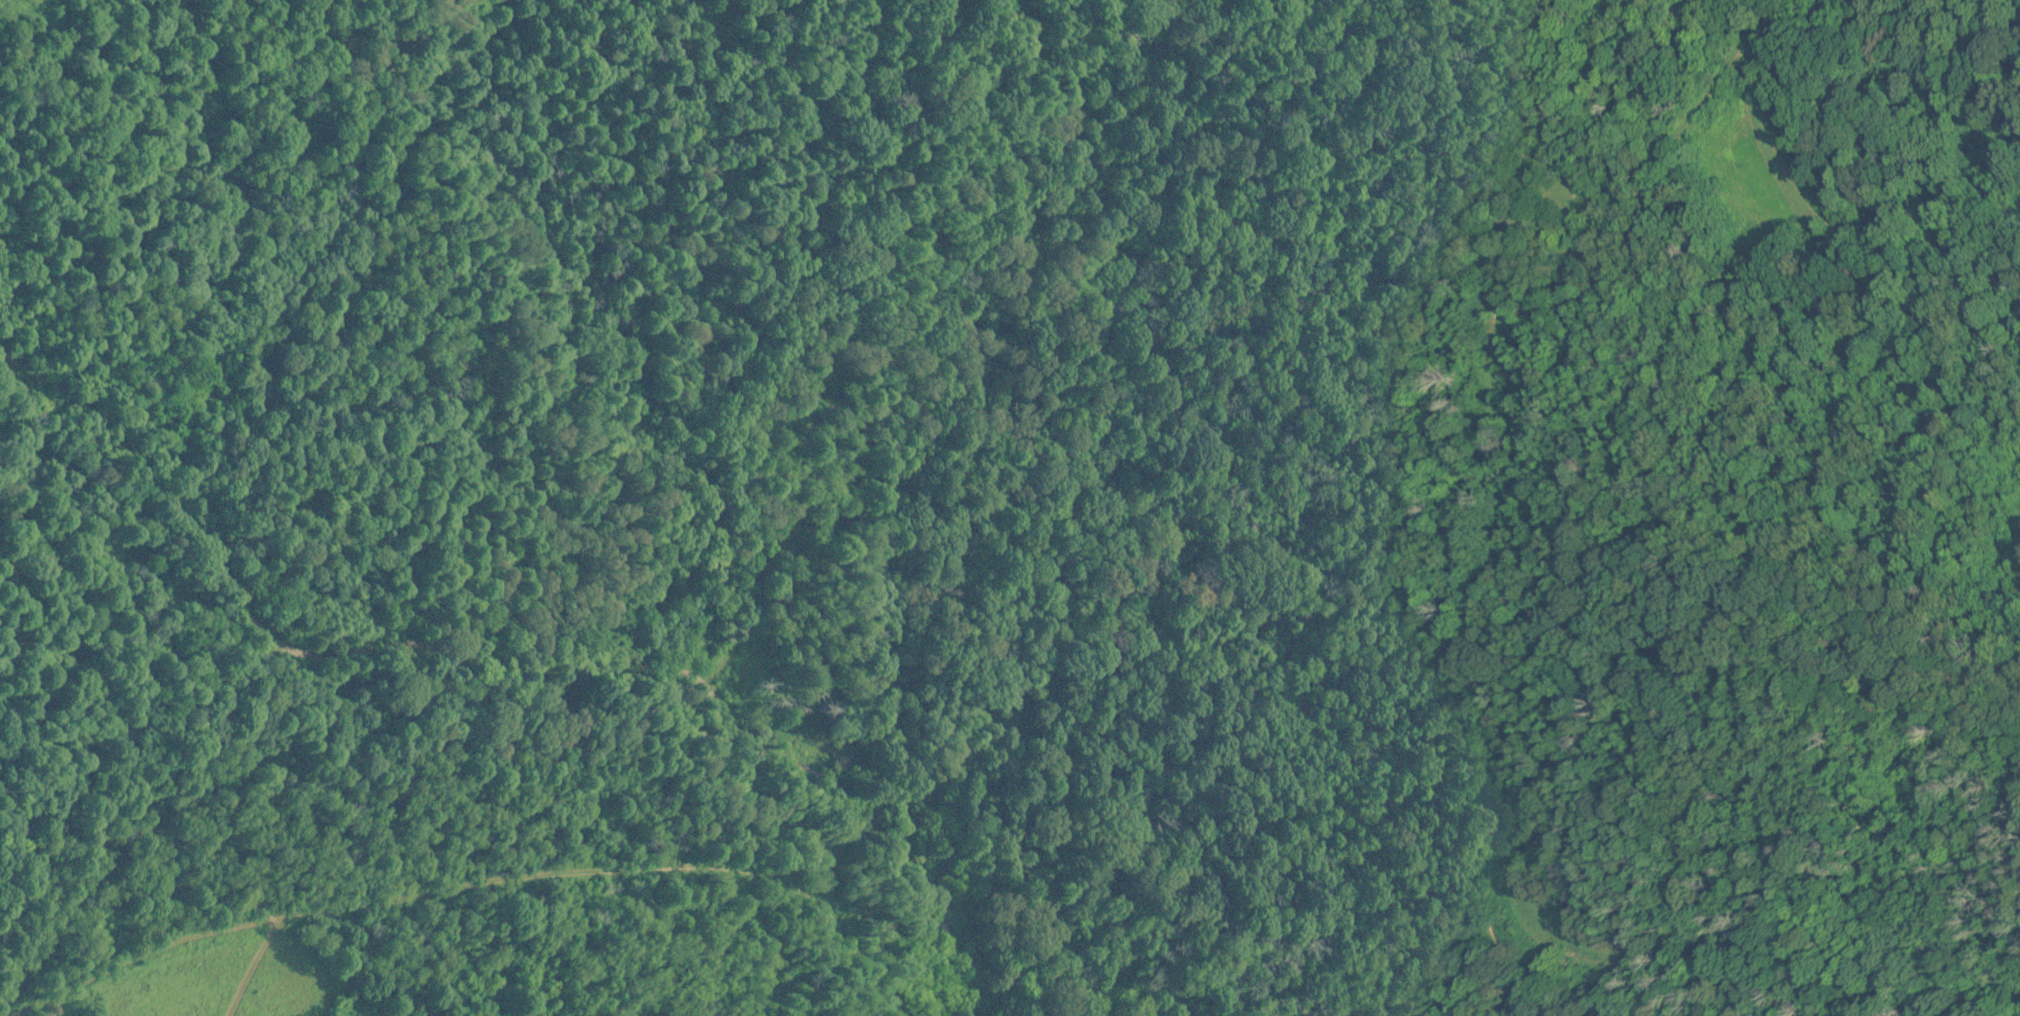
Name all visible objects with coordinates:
road: (309, 647)
road: (875, 839)
park: (1457, 871)

